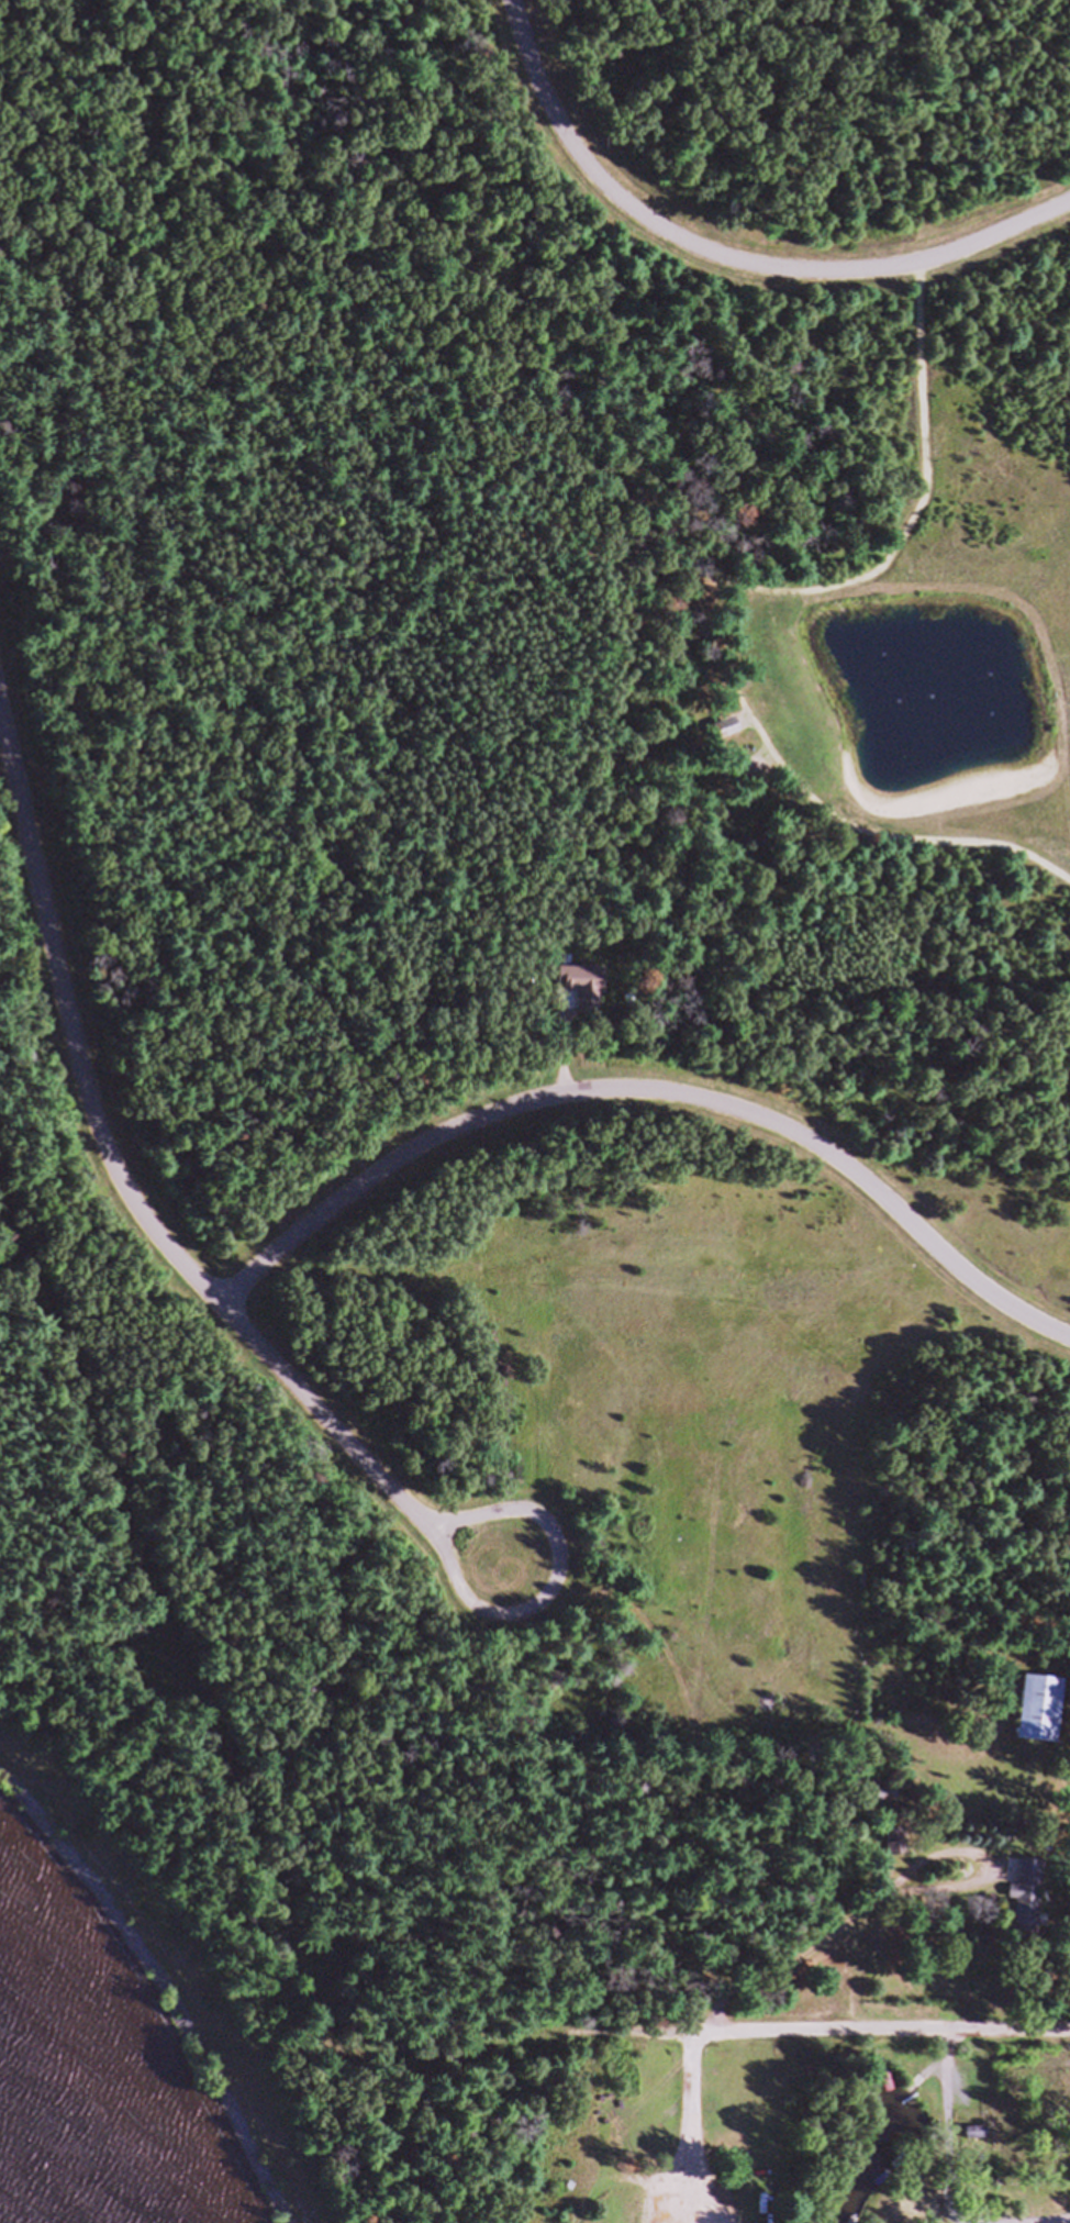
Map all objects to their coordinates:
road: (725, 263)
road: (902, 546)
building: (728, 736)
road: (854, 833)
road: (650, 1098)
road: (125, 1190)
road: (561, 1590)
building: (1043, 1716)
building: (895, 1849)
road: (863, 1903)
building: (1028, 1904)
road: (811, 2037)
road: (950, 2067)
parking lot: (966, 2100)
road: (951, 2107)
road: (695, 2121)
building: (978, 2141)
parking lot: (691, 2205)

